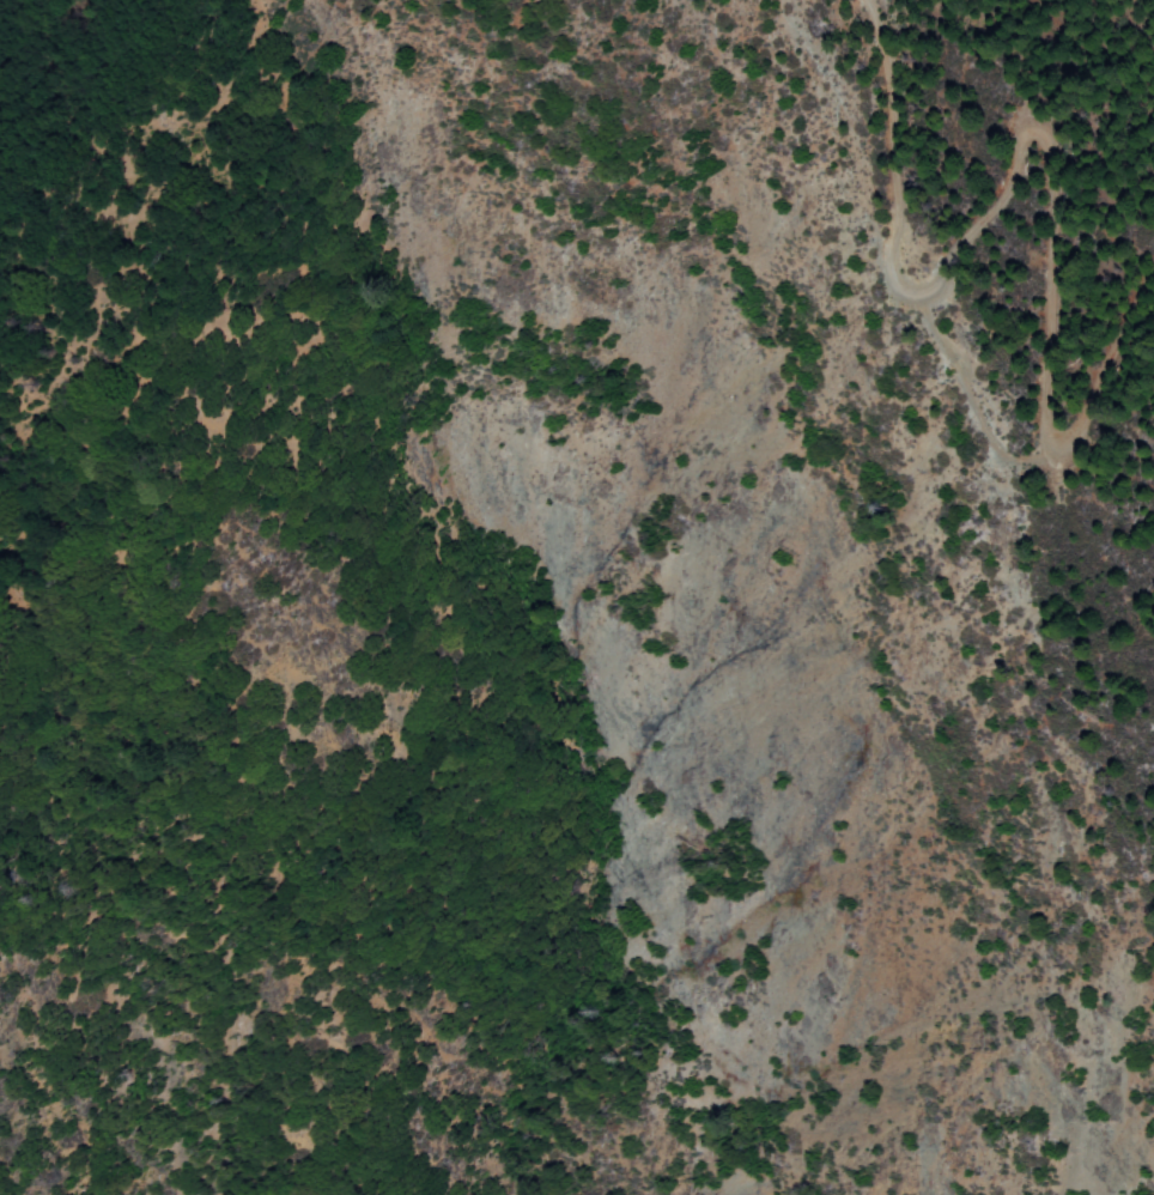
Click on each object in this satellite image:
road: (1035, 127)

